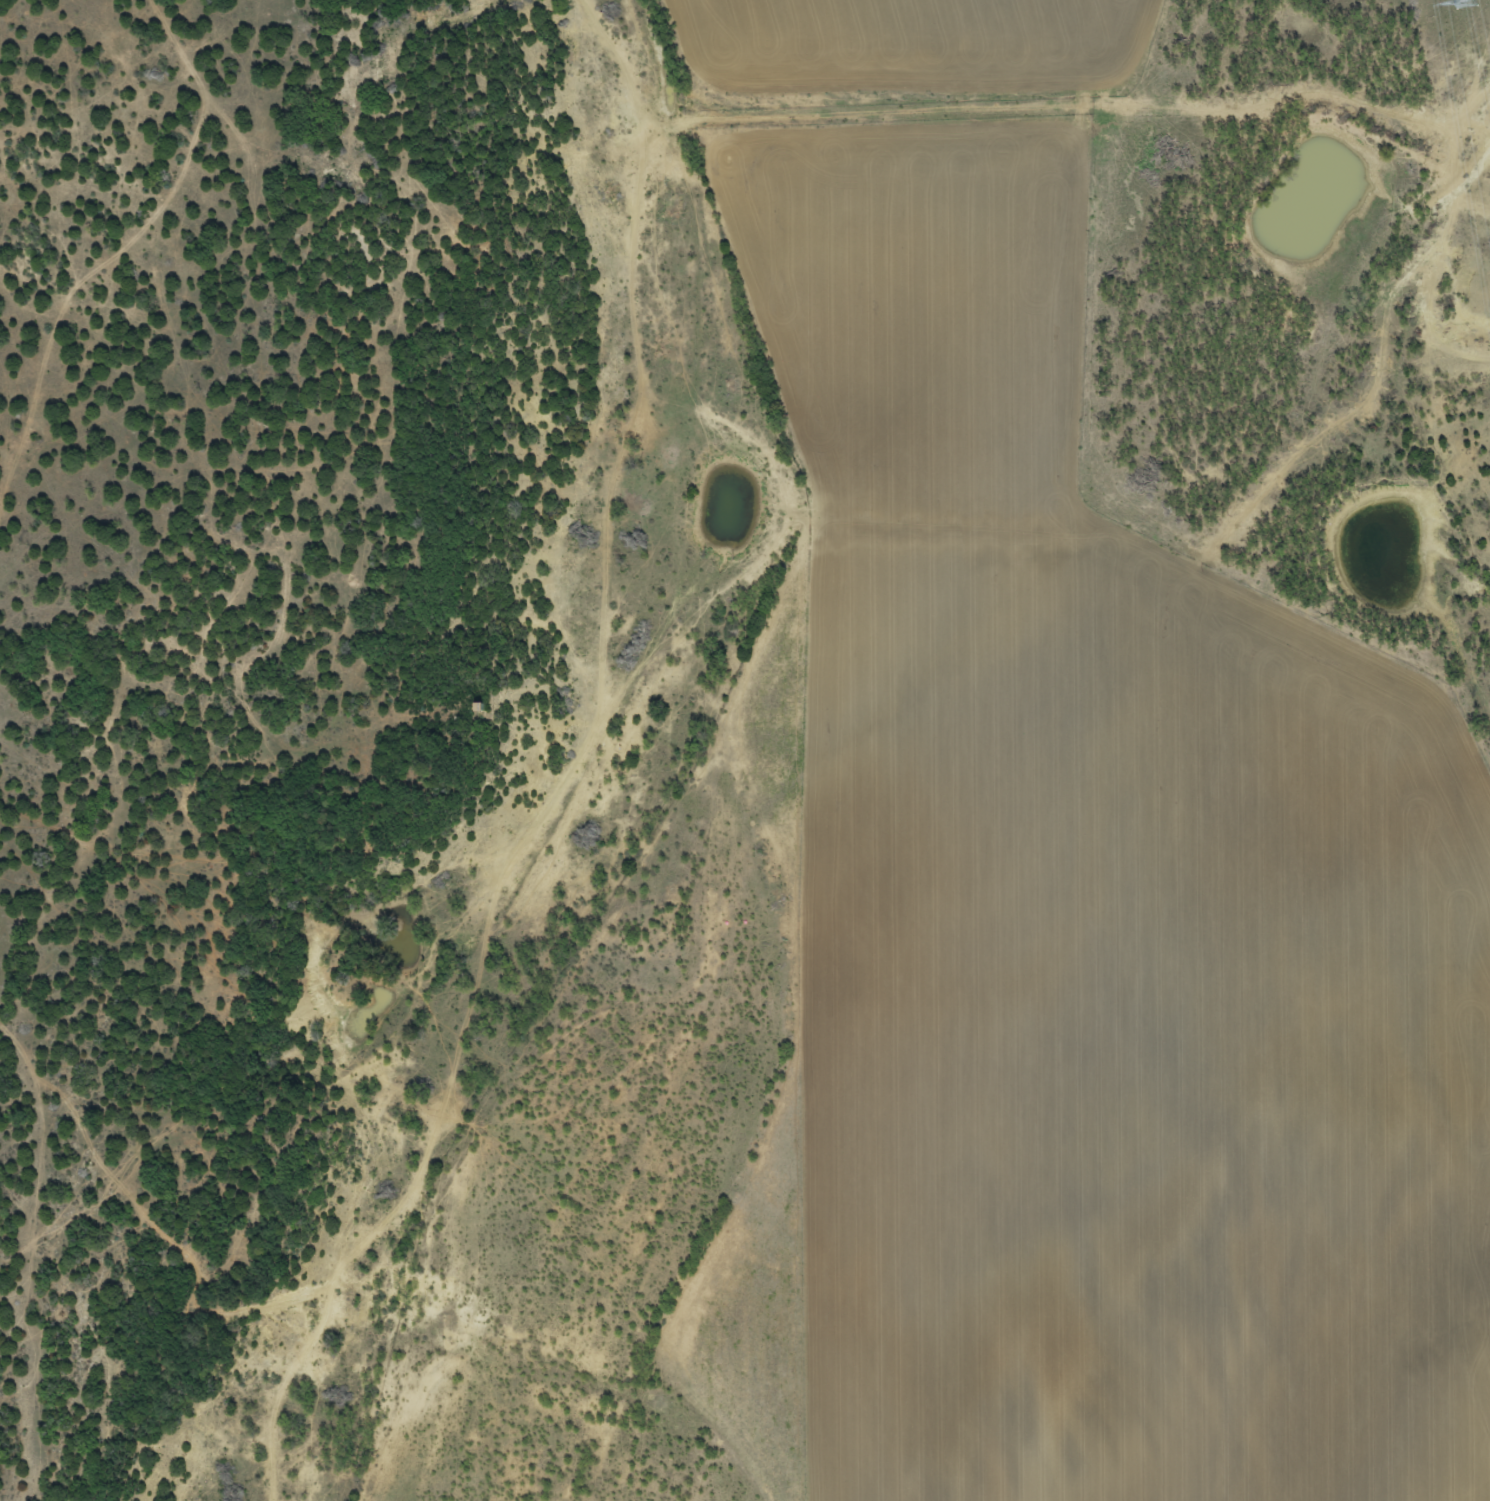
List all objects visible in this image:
power tower: (1468, 0)

